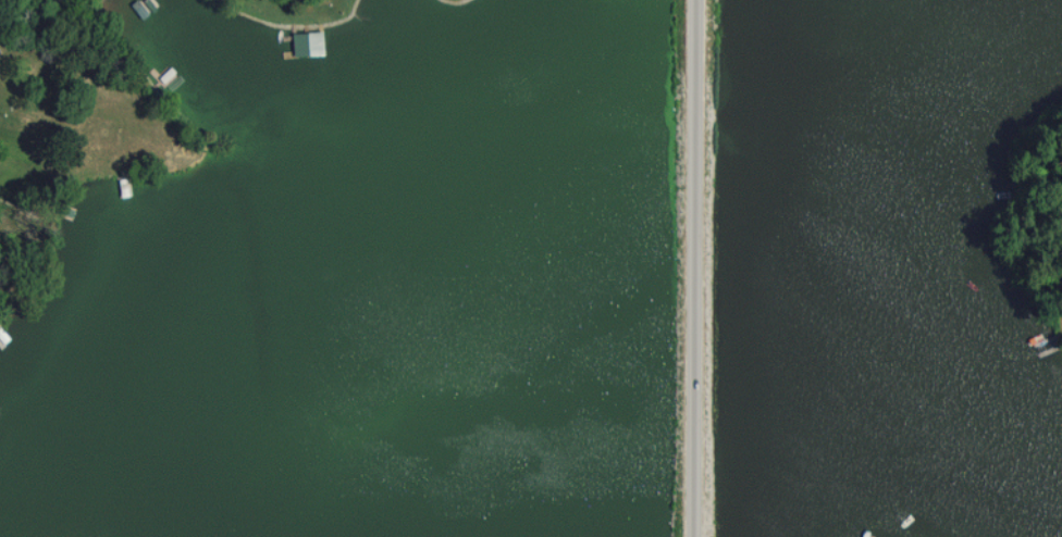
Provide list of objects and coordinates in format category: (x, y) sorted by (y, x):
road: (691, 267)

